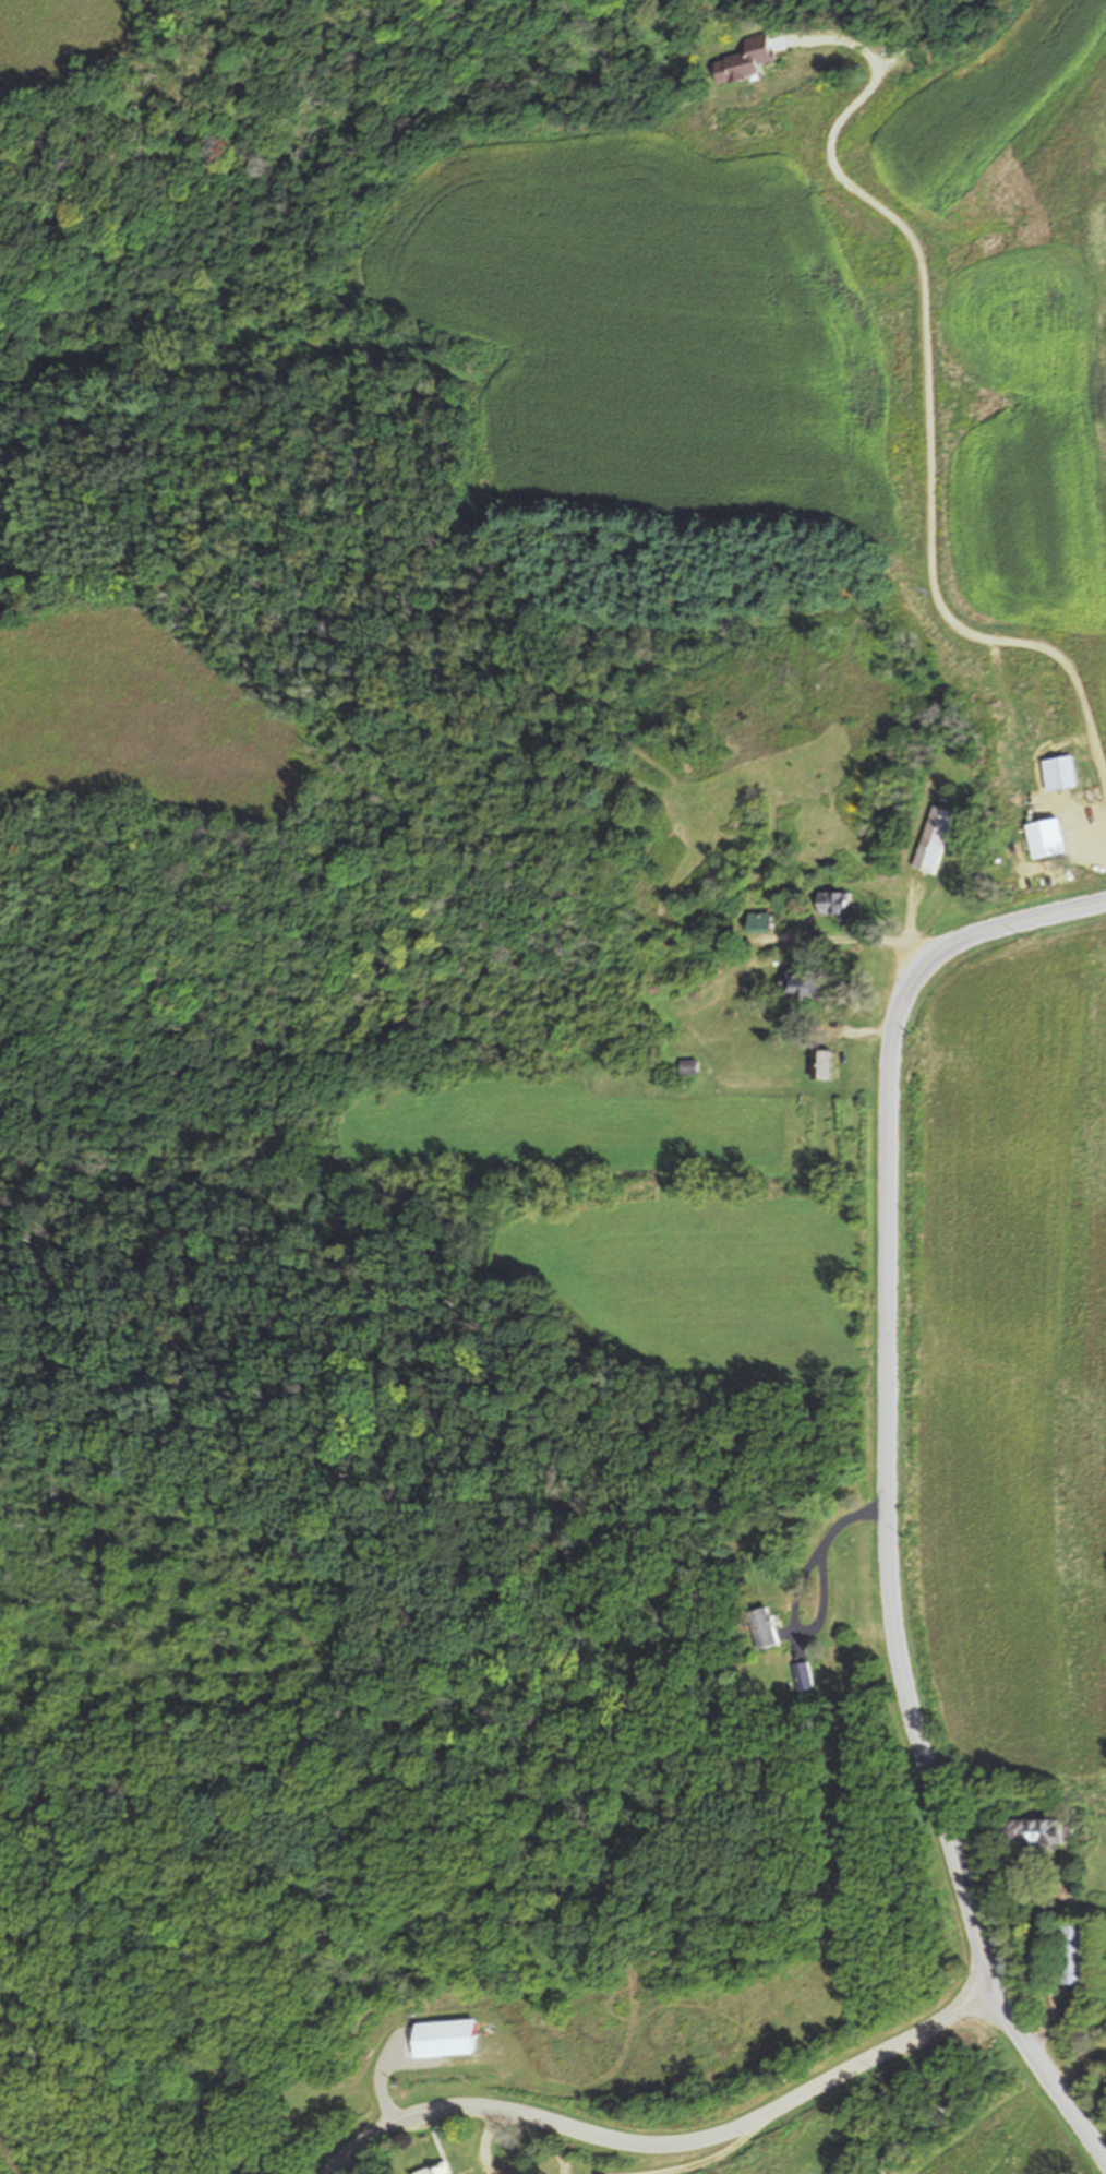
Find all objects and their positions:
building: (1060, 772)
building: (937, 838)
building: (840, 904)
building: (761, 920)
building: (805, 982)
building: (824, 1062)
building: (688, 1064)
road: (887, 1488)
building: (767, 1626)
building: (806, 1674)
building: (1036, 1829)
building: (1073, 1952)
building: (445, 2041)
building: (938, 2112)
road: (484, 2140)
road: (673, 2145)
road: (705, 2159)
building: (438, 2170)

